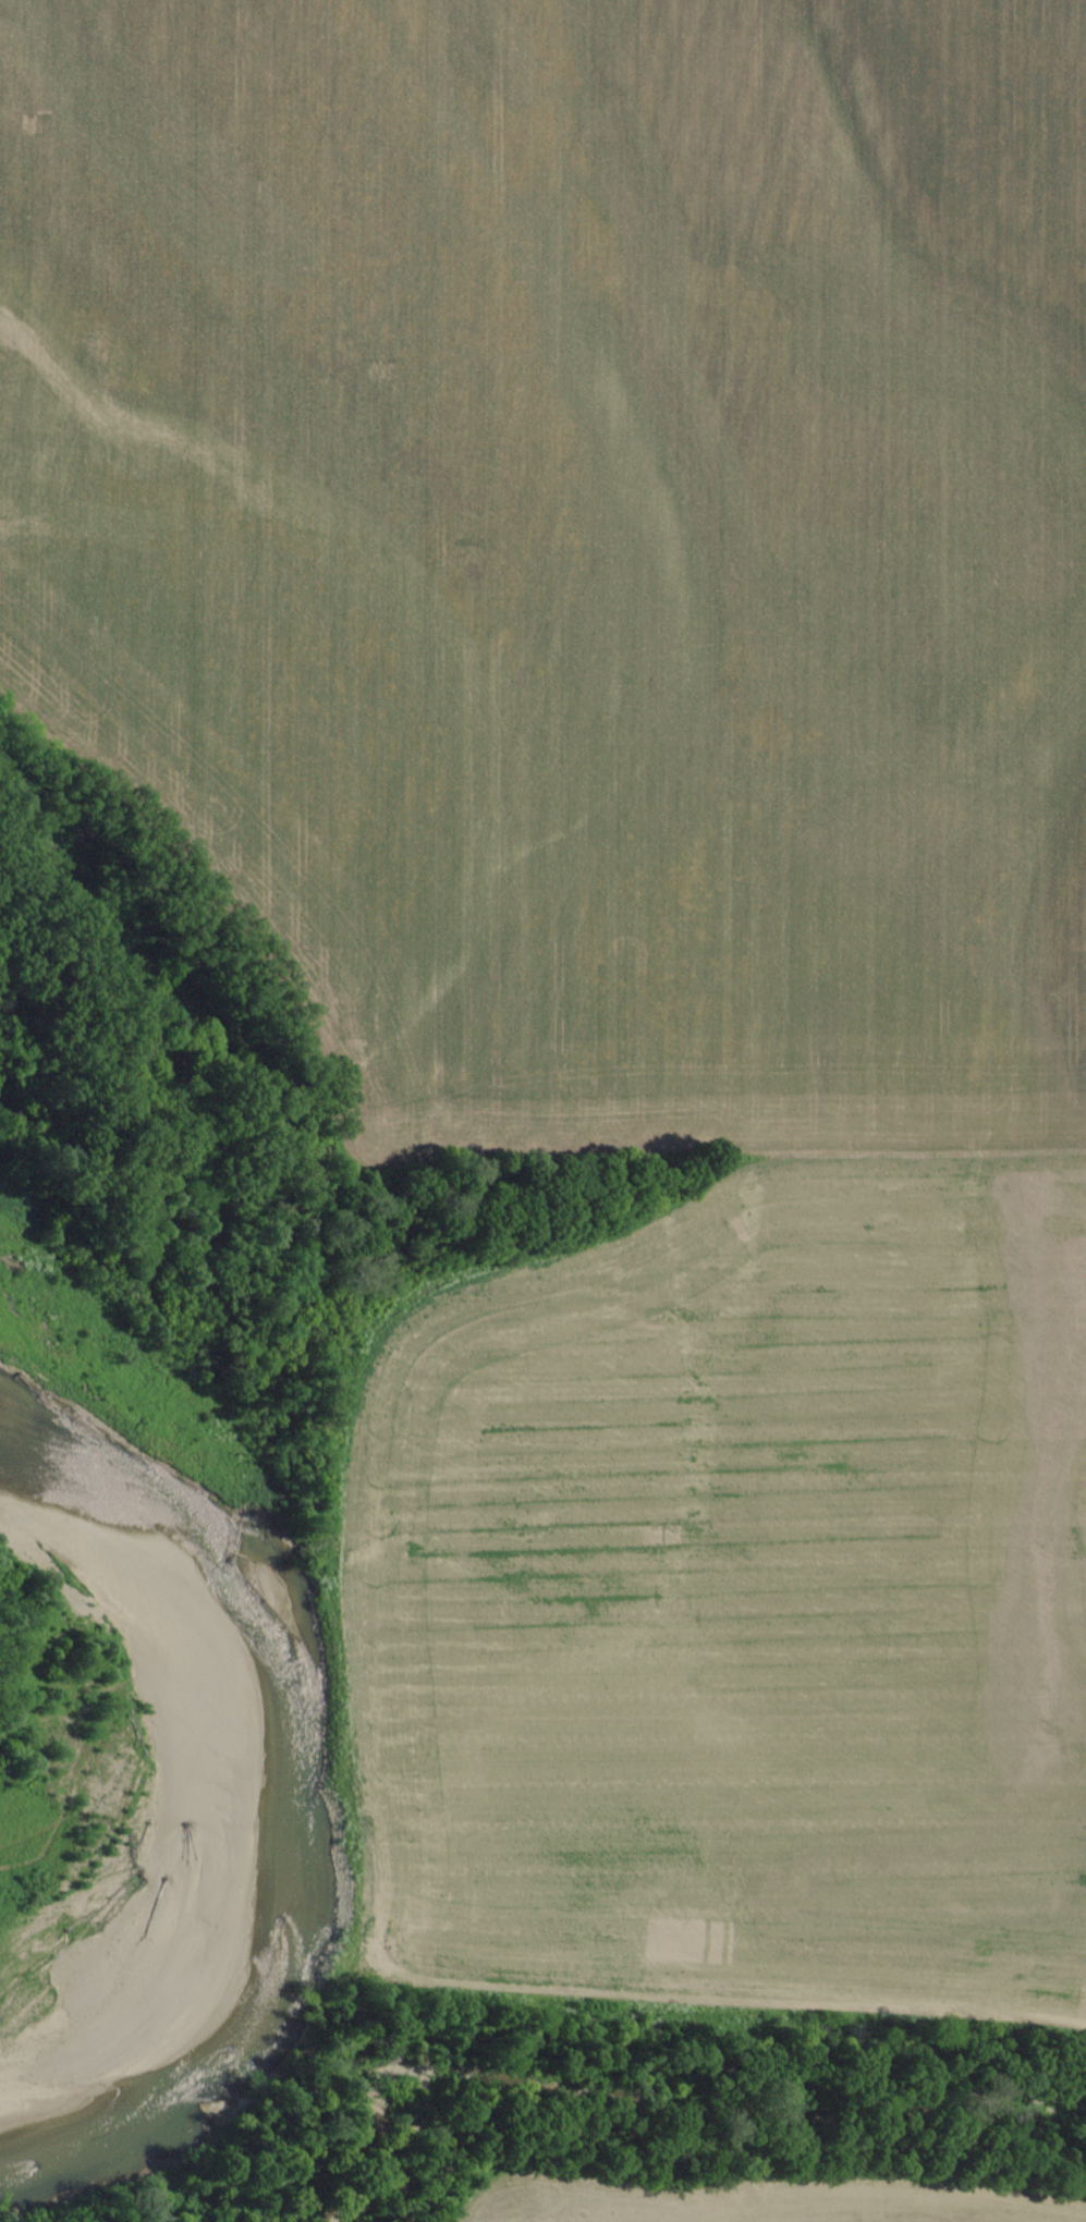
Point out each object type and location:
river: (207, 1626)

